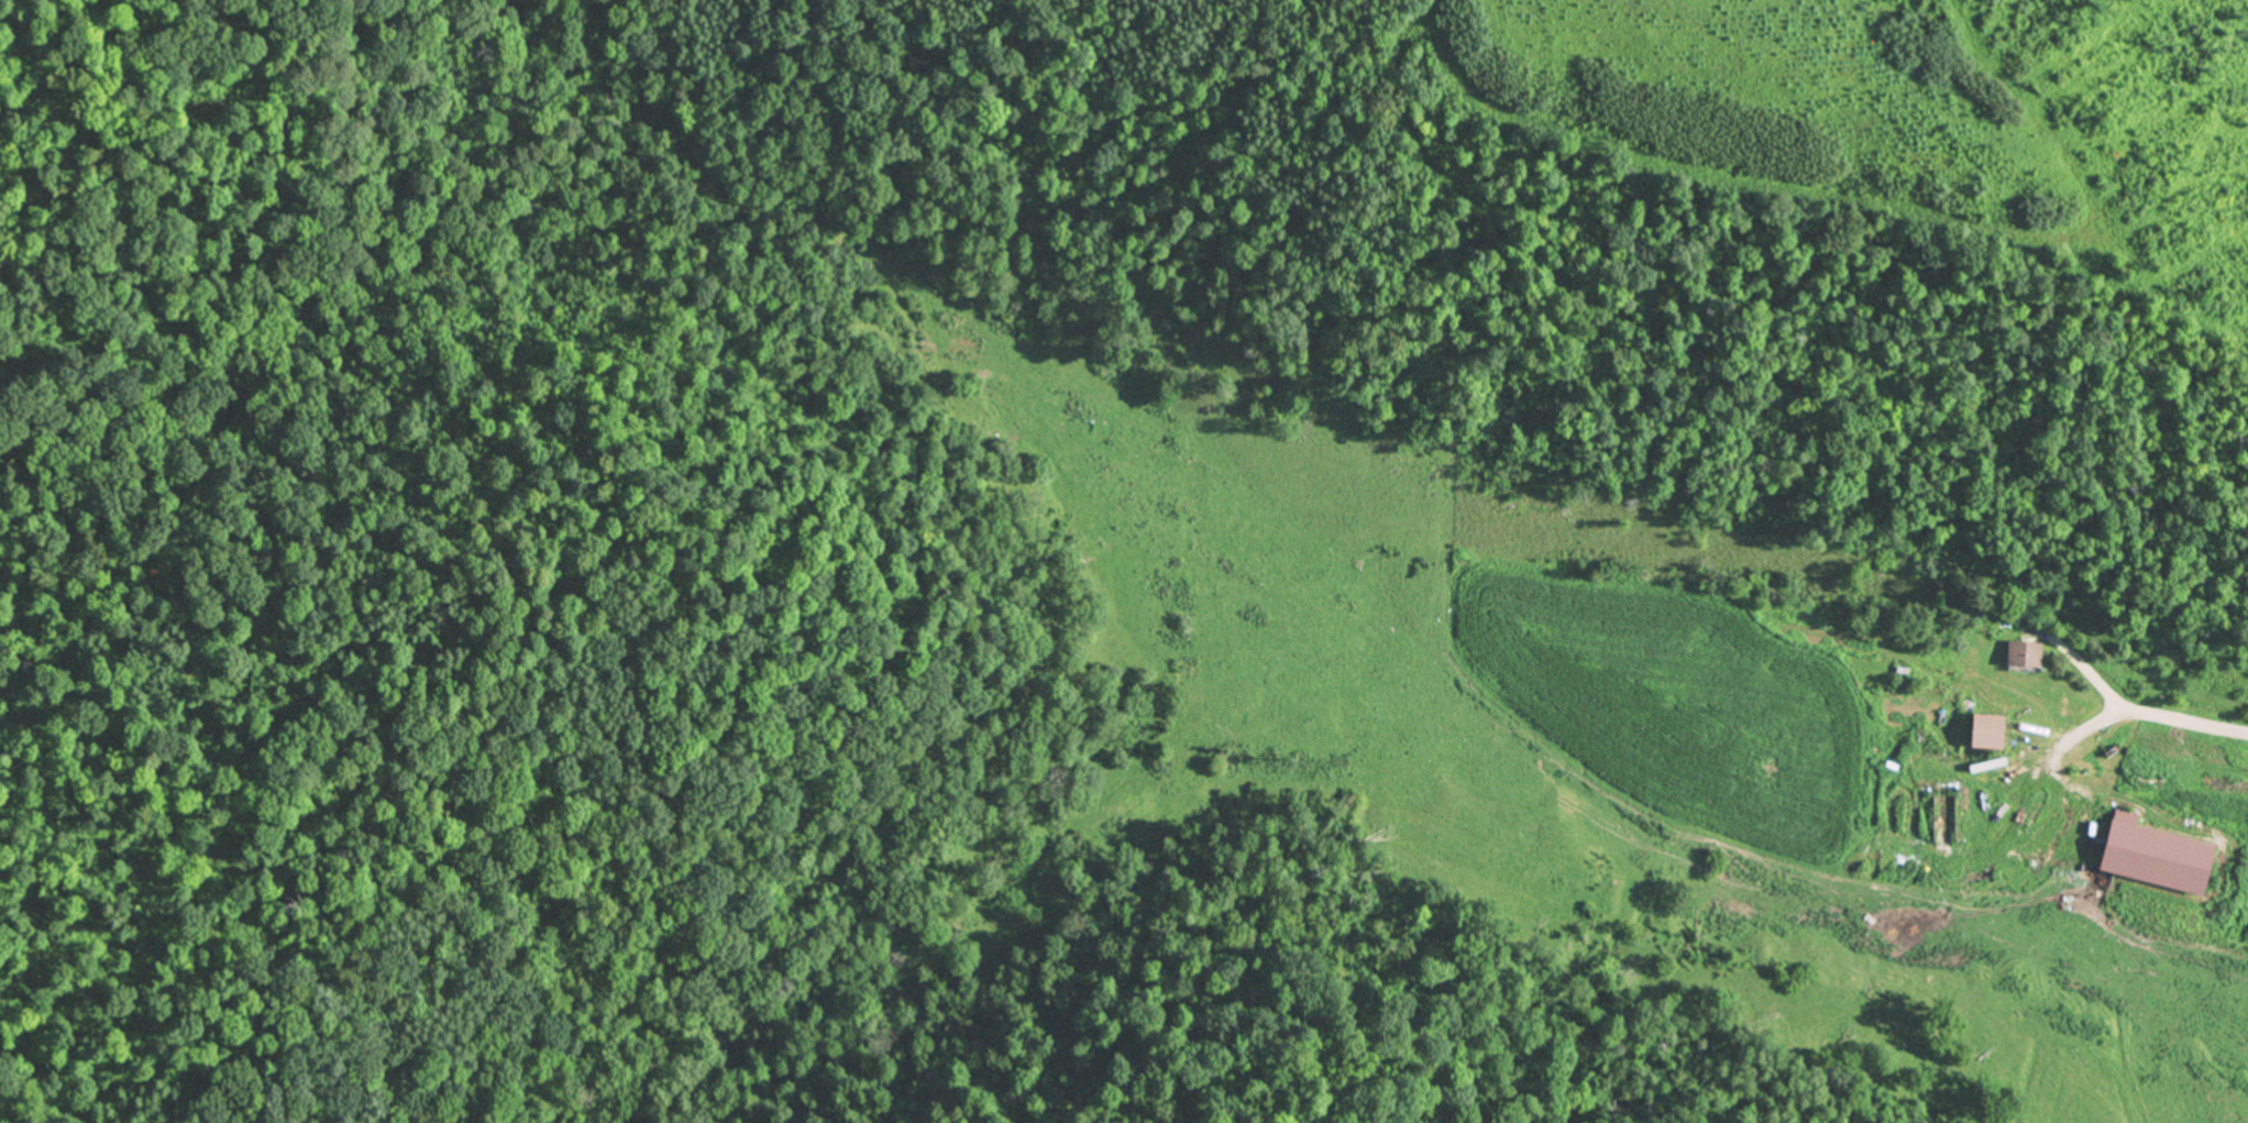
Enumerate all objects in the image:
building: (2018, 657)
road: (2182, 720)
building: (1982, 734)
building: (2134, 849)

